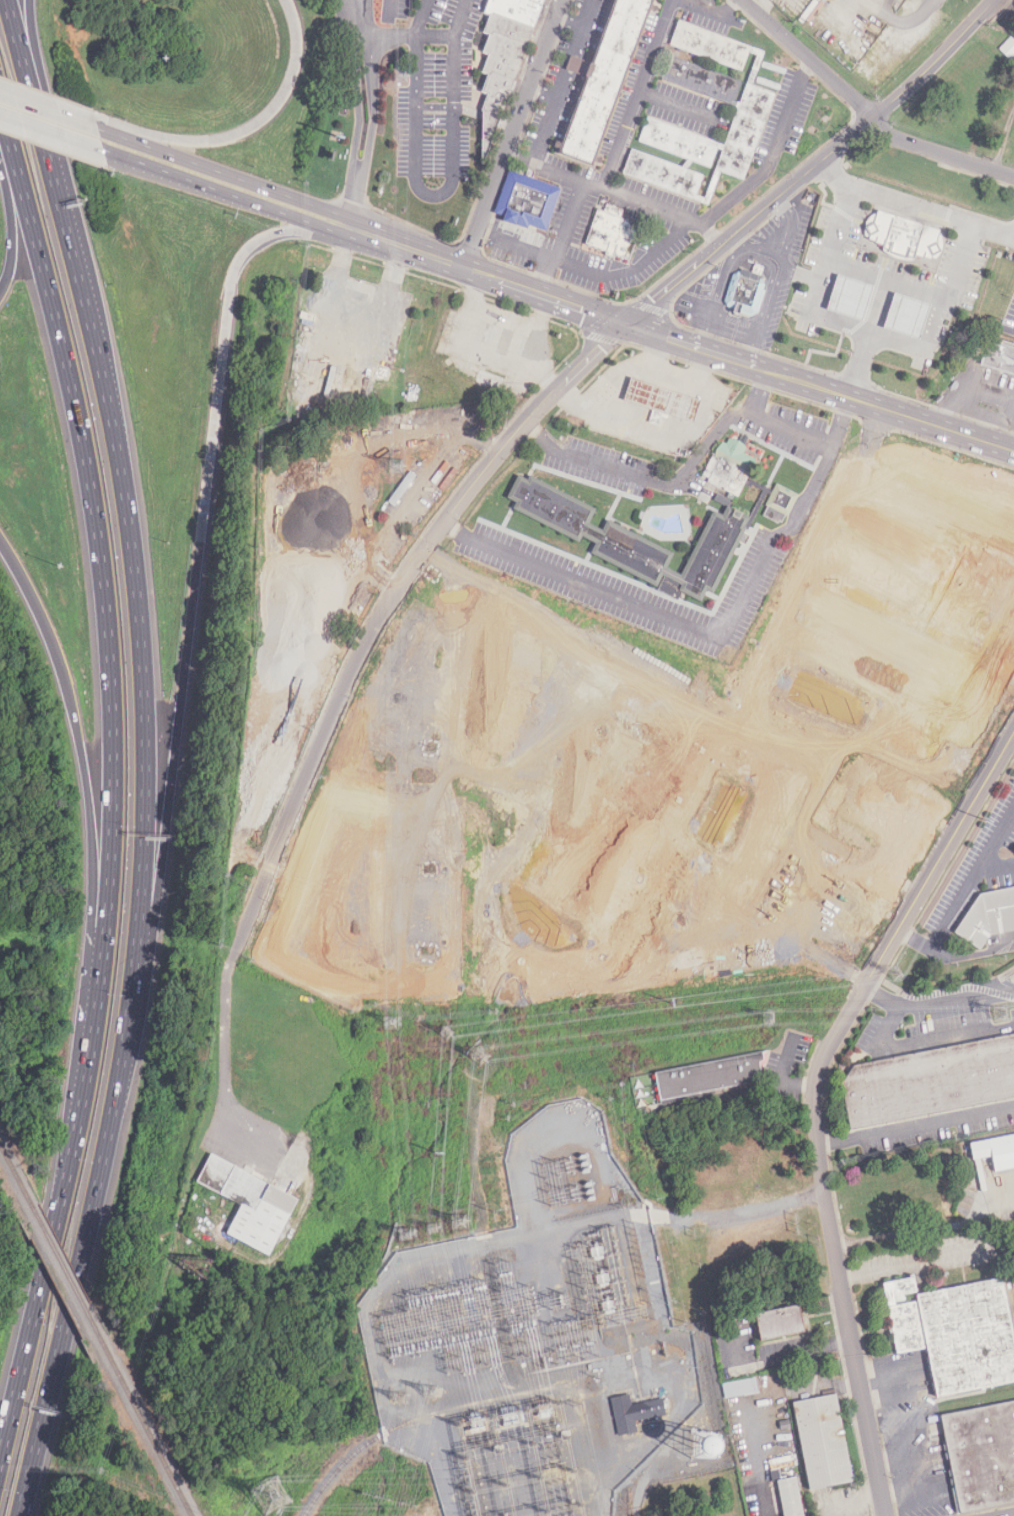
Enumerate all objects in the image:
road: (394, 5)
road: (362, 8)
road: (713, 11)
road: (11, 12)
road: (18, 12)
road: (362, 16)
road: (423, 18)
road: (463, 18)
road: (569, 22)
road: (904, 27)
road: (410, 36)
building: (1008, 47)
building: (504, 54)
road: (807, 58)
street lamp: (162, 59)
road: (562, 80)
building: (605, 80)
road: (543, 94)
road: (637, 94)
building: (743, 99)
road: (35, 103)
road: (677, 105)
road: (357, 107)
road: (372, 109)
road: (83, 118)
road: (84, 122)
road: (244, 132)
road: (511, 134)
road: (52, 135)
road: (1004, 142)
road: (940, 154)
road: (543, 166)
road: (766, 168)
road: (11, 170)
building: (664, 174)
road: (585, 183)
road: (211, 191)
road: (282, 194)
road: (435, 194)
road: (353, 198)
building: (528, 200)
road: (914, 205)
road: (785, 228)
road: (66, 231)
building: (613, 233)
building: (904, 235)
road: (754, 249)
road: (390, 252)
road: (14, 255)
road: (798, 270)
road: (601, 272)
road: (856, 275)
road: (883, 280)
building: (745, 292)
road: (713, 293)
road: (913, 294)
road: (544, 296)
building: (849, 296)
road: (849, 296)
road: (879, 306)
building: (905, 314)
road: (906, 315)
road: (843, 316)
road: (761, 318)
traffic signals: (626, 325)
road: (869, 330)
road: (900, 337)
road: (686, 345)
road: (753, 345)
road: (651, 351)
building: (999, 357)
road: (860, 365)
road: (632, 368)
road: (756, 369)
road: (965, 384)
road: (807, 385)
road: (758, 392)
building: (661, 398)
road: (736, 415)
road: (531, 417)
road: (931, 425)
road: (672, 435)
road: (591, 462)
building: (566, 523)
building: (969, 535)
street lamp: (56, 563)
road: (707, 632)
road: (187, 658)
road: (692, 686)
road: (733, 695)
road: (146, 789)
road: (91, 816)
road: (111, 839)
road: (972, 878)
building: (987, 915)
road: (914, 938)
road: (903, 944)
road: (973, 954)
road: (834, 962)
power tower: (897, 976)
road: (894, 987)
road: (960, 988)
road: (936, 999)
power tower: (671, 1005)
power tower: (1000, 1015)
parking lot: (938, 1016)
power tower: (770, 1019)
power tower: (392, 1020)
power tower: (445, 1034)
road: (224, 1038)
road: (923, 1040)
power tower: (481, 1056)
building: (709, 1076)
building: (929, 1081)
road: (815, 1099)
road: (915, 1123)
building: (994, 1150)
railway: (12, 1164)
building: (252, 1204)
power tower: (462, 1221)
power tower: (433, 1227)
power tower: (414, 1236)
road: (917, 1265)
railway: (67, 1273)
building: (781, 1321)
road: (65, 1328)
building: (953, 1332)
power substation: (543, 1345)
road: (893, 1376)
building: (740, 1387)
power tower: (430, 1392)
power tower: (398, 1398)
building: (634, 1412)
railway: (421, 1417)
railway: (151, 1437)
road: (916, 1437)
building: (823, 1442)
building: (705, 1445)
water tower: (705, 1445)
building: (980, 1455)
road: (759, 1464)
power tower: (272, 1497)
building: (790, 1497)
road: (1009, 1514)

